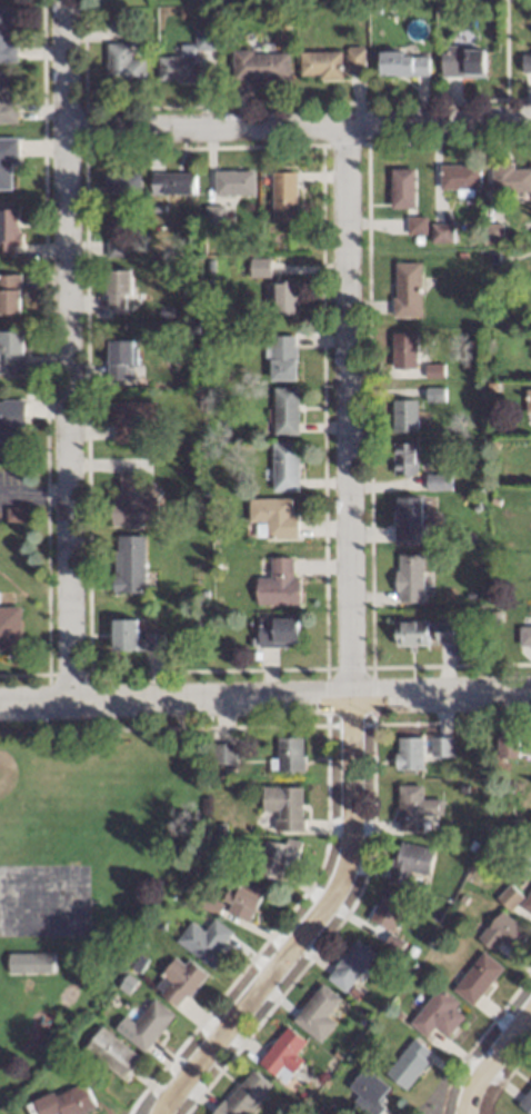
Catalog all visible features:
building: (7, 34)
building: (353, 58)
road: (504, 60)
building: (189, 62)
building: (461, 62)
building: (525, 62)
building: (401, 64)
building: (122, 66)
building: (260, 66)
building: (320, 66)
building: (6, 103)
road: (298, 125)
building: (7, 163)
building: (458, 178)
building: (510, 179)
building: (172, 183)
building: (233, 183)
building: (121, 185)
building: (400, 189)
building: (282, 197)
building: (213, 216)
building: (414, 226)
building: (8, 231)
building: (440, 233)
building: (116, 247)
building: (258, 268)
building: (405, 289)
building: (116, 290)
building: (9, 295)
building: (283, 298)
building: (530, 344)
road: (70, 348)
building: (402, 350)
building: (11, 352)
building: (281, 358)
building: (119, 359)
building: (433, 395)
building: (528, 399)
building: (284, 411)
building: (402, 416)
building: (131, 421)
building: (9, 425)
building: (404, 460)
building: (283, 467)
building: (437, 483)
road: (37, 491)
building: (134, 504)
building: (273, 517)
building: (408, 521)
building: (128, 564)
building: (408, 580)
building: (277, 584)
building: (9, 630)
building: (442, 633)
building: (275, 634)
building: (409, 635)
building: (524, 636)
building: (126, 637)
road: (351, 650)
road: (264, 695)
building: (508, 746)
building: (440, 747)
building: (222, 755)
building: (408, 755)
building: (289, 756)
building: (282, 808)
building: (413, 809)
park: (84, 856)
building: (275, 858)
building: (409, 863)
building: (509, 897)
building: (527, 902)
building: (241, 903)
building: (385, 913)
building: (502, 933)
building: (203, 941)
building: (393, 944)
building: (36, 964)
building: (349, 966)
building: (475, 978)
building: (178, 982)
building: (315, 1014)
building: (437, 1016)
building: (147, 1026)
building: (110, 1053)
building: (281, 1056)
road: (491, 1058)
building: (408, 1065)
building: (367, 1093)
building: (242, 1094)
building: (73, 1101)
building: (525, 1102)

